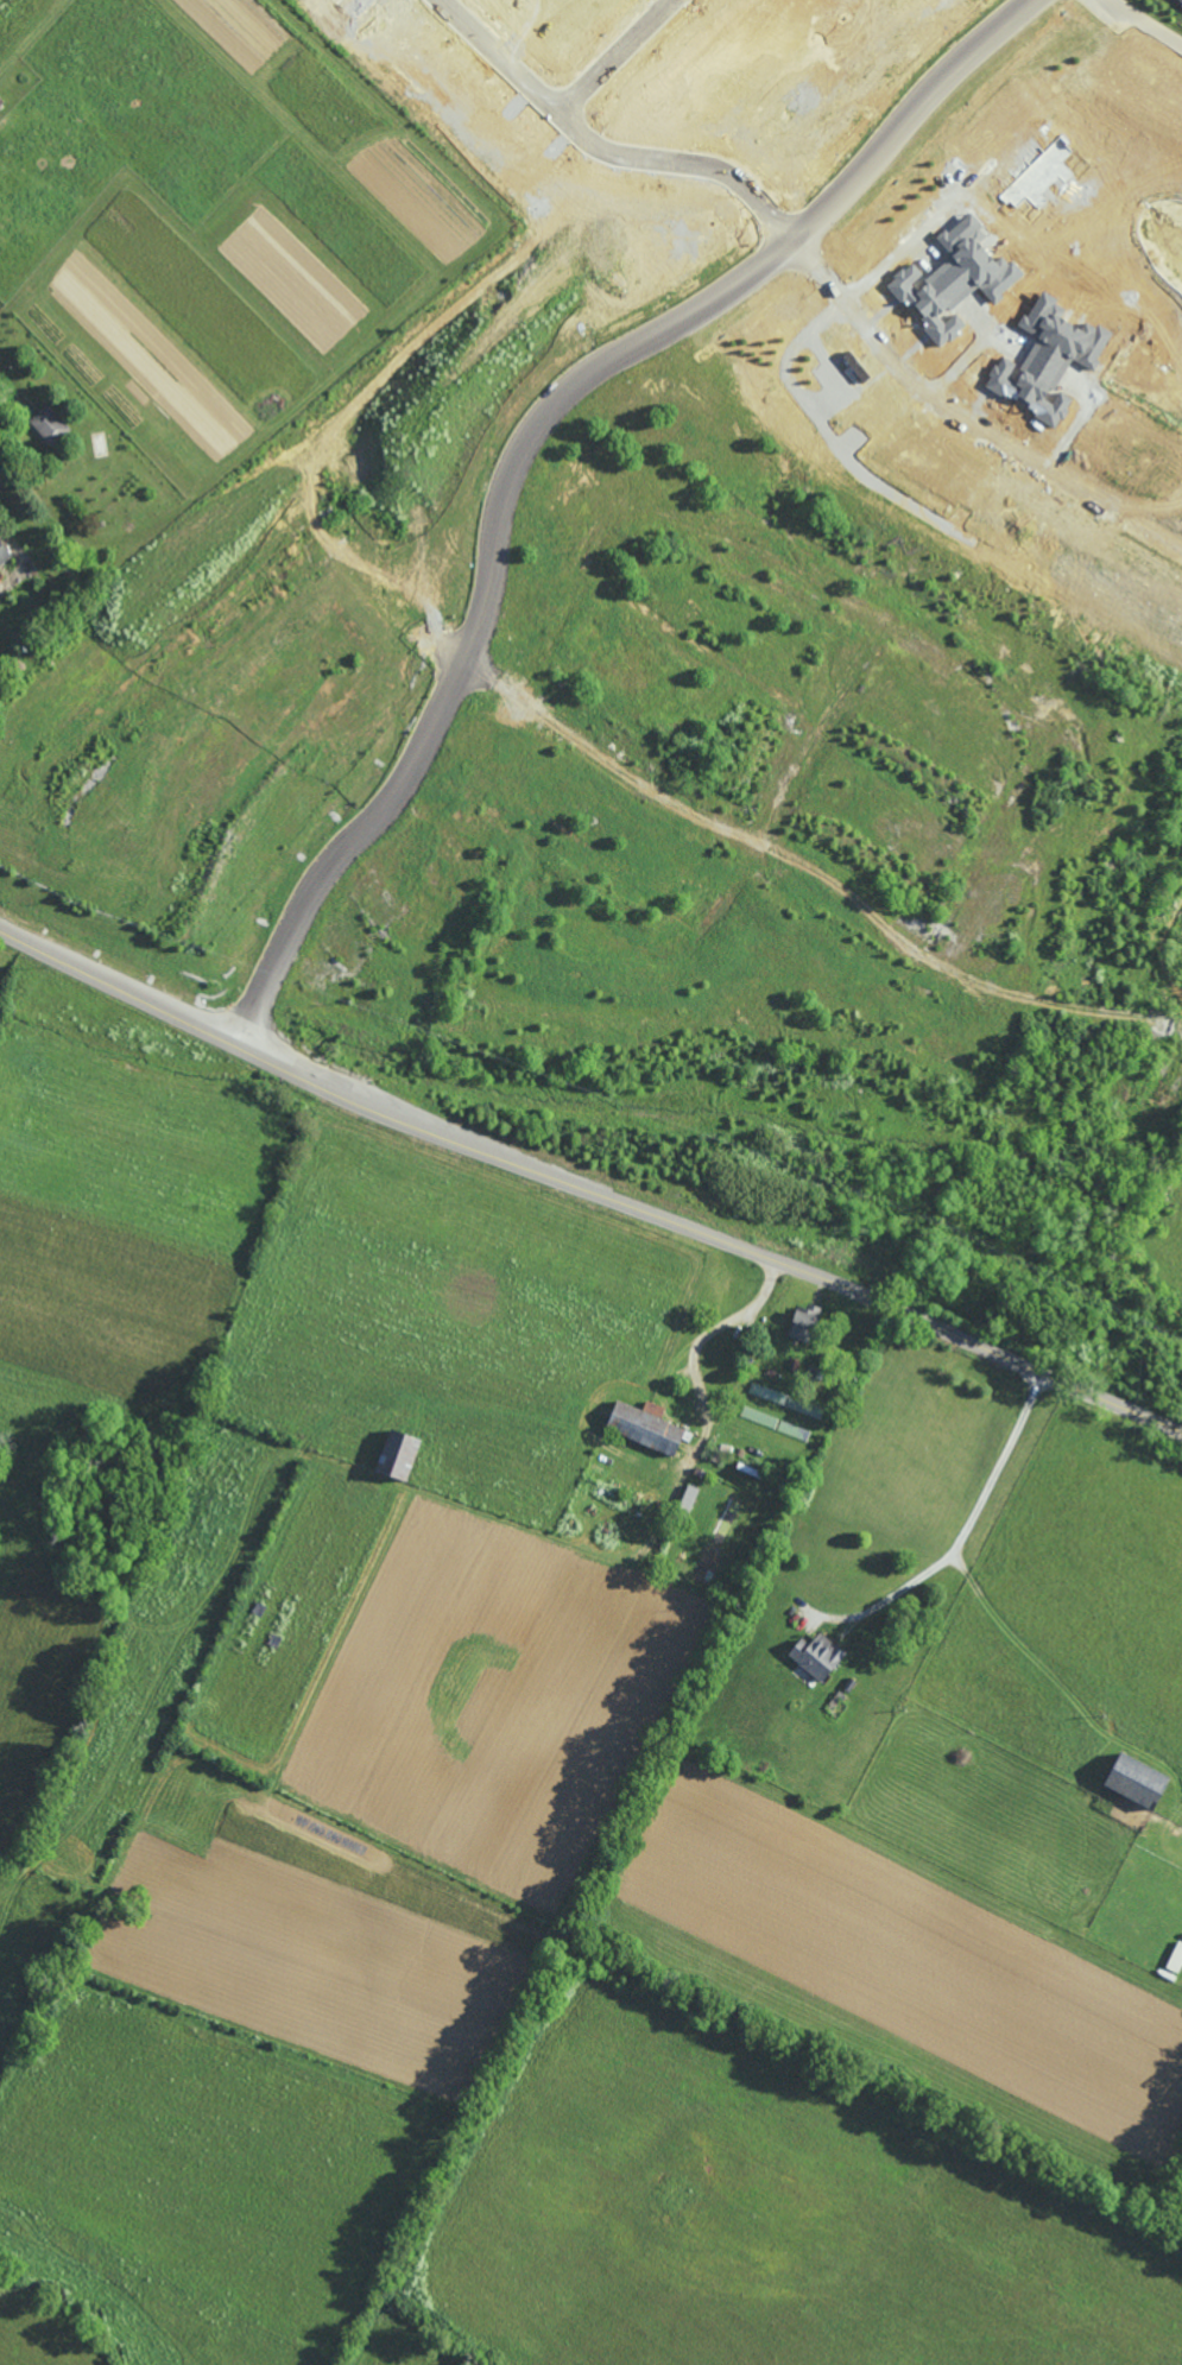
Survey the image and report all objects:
building: (1180, 0)
road: (337, 6)
road: (1140, 30)
road: (613, 62)
road: (592, 154)
building: (971, 265)
road: (821, 266)
road: (811, 274)
building: (46, 426)
road: (1000, 438)
road: (523, 441)
road: (1, 462)
building: (4, 554)
road: (815, 867)
road: (588, 1191)
building: (804, 1322)
road: (701, 1342)
building: (646, 1425)
building: (399, 1454)
building: (689, 1498)
road: (959, 1541)
building: (817, 1655)
building: (1137, 1781)

